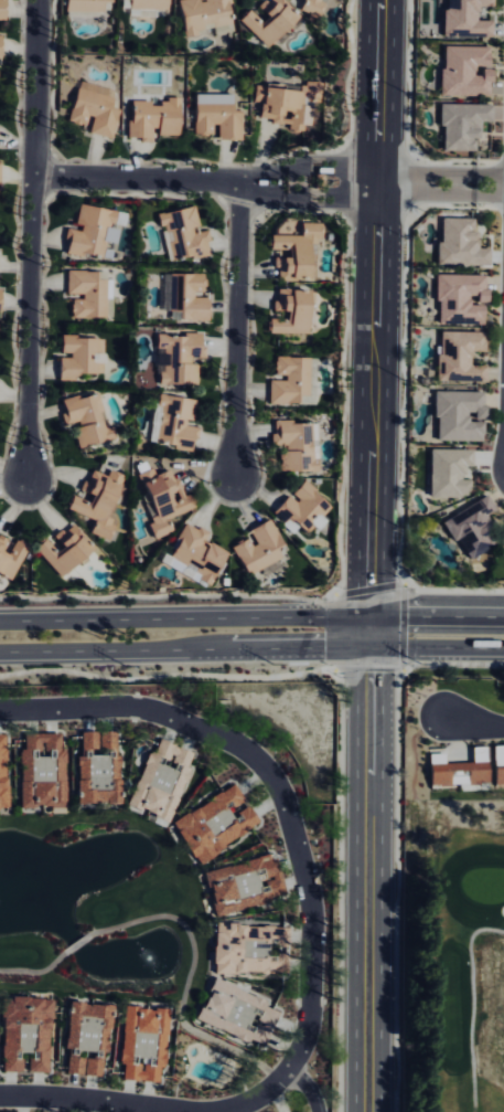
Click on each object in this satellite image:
building: (86, 6)
building: (144, 7)
building: (310, 7)
building: (1, 10)
building: (204, 17)
building: (465, 20)
building: (268, 21)
building: (0, 41)
building: (463, 72)
building: (287, 105)
building: (93, 109)
building: (215, 117)
building: (151, 119)
building: (460, 125)
road: (158, 181)
building: (318, 182)
road: (333, 184)
road: (441, 187)
building: (89, 232)
building: (182, 234)
road: (29, 241)
building: (458, 244)
building: (293, 252)
road: (377, 292)
building: (88, 295)
building: (186, 298)
building: (459, 299)
building: (289, 314)
road: (239, 332)
building: (79, 358)
building: (459, 358)
building: (179, 359)
building: (288, 381)
building: (458, 416)
building: (85, 421)
building: (173, 423)
building: (293, 446)
building: (448, 474)
building: (162, 500)
building: (96, 502)
building: (301, 508)
building: (470, 529)
building: (1, 542)
building: (256, 549)
building: (62, 551)
building: (192, 557)
building: (11, 560)
road: (186, 618)
road: (438, 618)
road: (439, 646)
road: (186, 649)
road: (373, 682)
road: (474, 721)
building: (497, 764)
building: (1, 770)
building: (458, 770)
building: (96, 771)
building: (40, 773)
road: (278, 781)
building: (159, 782)
building: (213, 825)
building: (242, 885)
park: (97, 909)
road: (76, 944)
road: (372, 946)
building: (248, 949)
park: (455, 955)
fountain: (149, 961)
road: (34, 972)
road: (187, 981)
building: (235, 1013)
building: (23, 1034)
building: (84, 1039)
building: (141, 1042)
road: (303, 1092)
road: (151, 1105)

